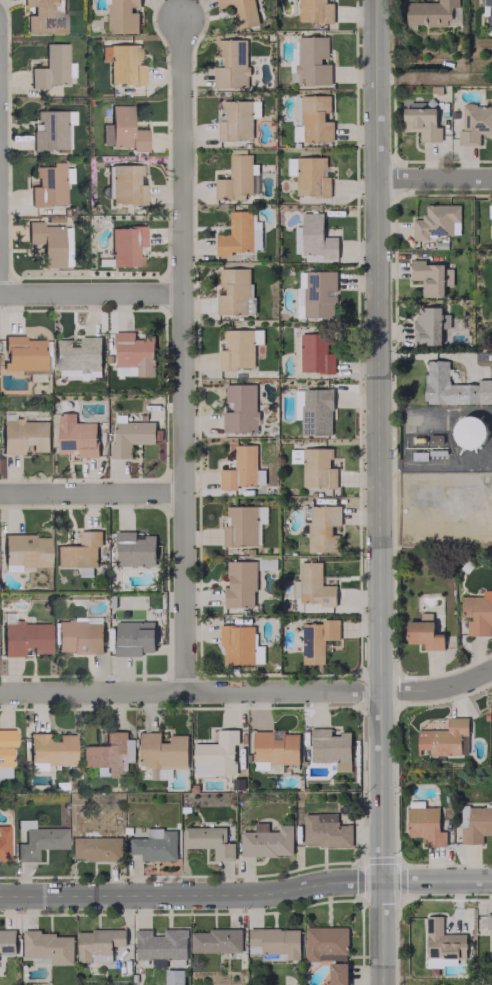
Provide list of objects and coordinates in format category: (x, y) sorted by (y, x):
building: (315, 11)
building: (487, 11)
building: (241, 12)
building: (429, 12)
building: (44, 16)
building: (122, 16)
building: (489, 30)
building: (312, 60)
building: (123, 63)
building: (230, 63)
building: (50, 67)
building: (236, 118)
building: (315, 118)
building: (422, 121)
building: (474, 124)
building: (297, 125)
building: (50, 129)
building: (125, 129)
building: (311, 176)
building: (237, 178)
road: (433, 178)
building: (48, 184)
building: (126, 184)
building: (437, 221)
building: (239, 233)
building: (316, 237)
building: (47, 242)
building: (126, 246)
building: (427, 277)
building: (234, 290)
road: (90, 293)
building: (316, 293)
building: (429, 324)
building: (237, 349)
road: (180, 353)
building: (315, 353)
building: (133, 354)
building: (23, 356)
building: (77, 357)
building: (452, 386)
building: (240, 408)
building: (315, 411)
building: (407, 422)
building: (469, 431)
storage tank: (469, 431)
building: (23, 435)
building: (75, 436)
building: (129, 436)
road: (434, 462)
building: (317, 468)
building: (241, 469)
road: (91, 492)
road: (377, 492)
building: (243, 525)
building: (322, 527)
building: (134, 549)
building: (24, 551)
building: (79, 551)
building: (239, 584)
building: (312, 585)
building: (477, 613)
building: (423, 632)
building: (24, 637)
building: (78, 637)
building: (133, 637)
building: (316, 639)
building: (239, 645)
road: (248, 691)
building: (445, 738)
building: (5, 745)
building: (329, 745)
building: (50, 749)
building: (275, 749)
building: (161, 753)
building: (215, 753)
building: (108, 754)
building: (476, 824)
building: (425, 825)
building: (324, 830)
building: (38, 840)
building: (208, 840)
building: (265, 840)
building: (3, 843)
building: (94, 848)
road: (246, 893)
building: (489, 926)
building: (215, 940)
building: (442, 940)
building: (7, 941)
building: (274, 942)
building: (325, 943)
building: (97, 944)
building: (160, 945)
building: (47, 947)
building: (337, 973)

